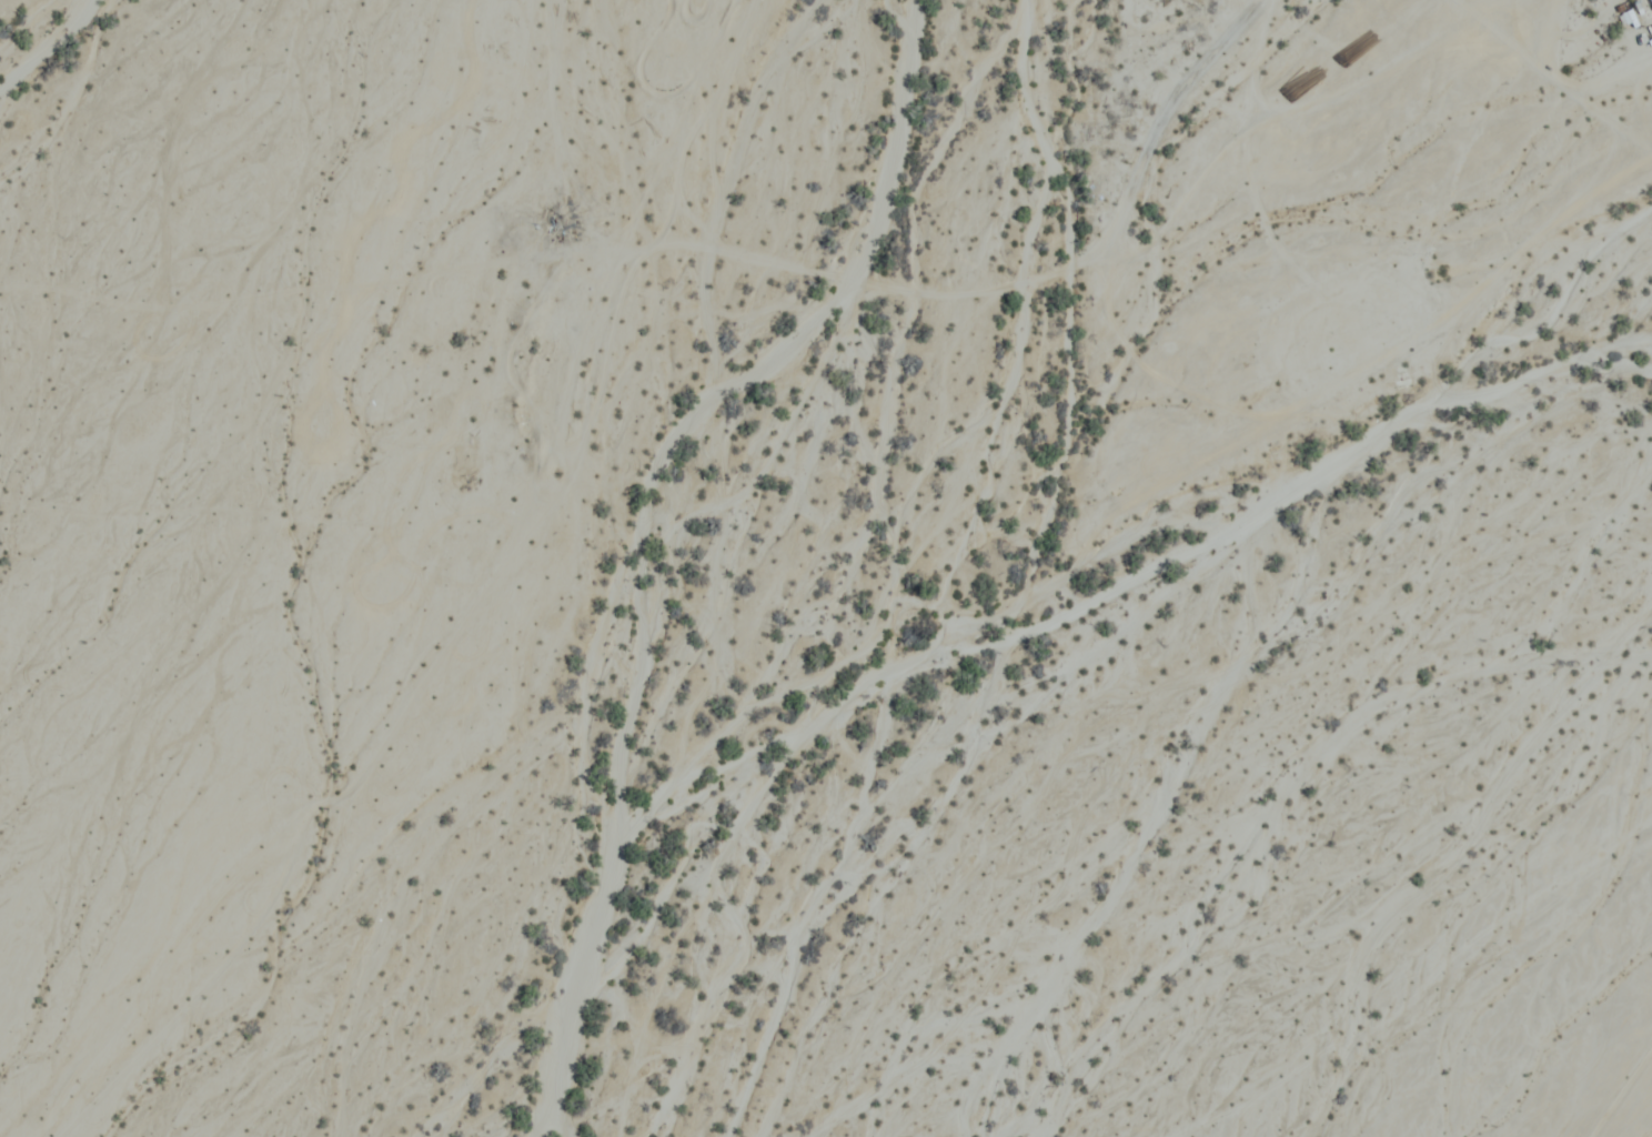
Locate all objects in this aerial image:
road: (1255, 41)

